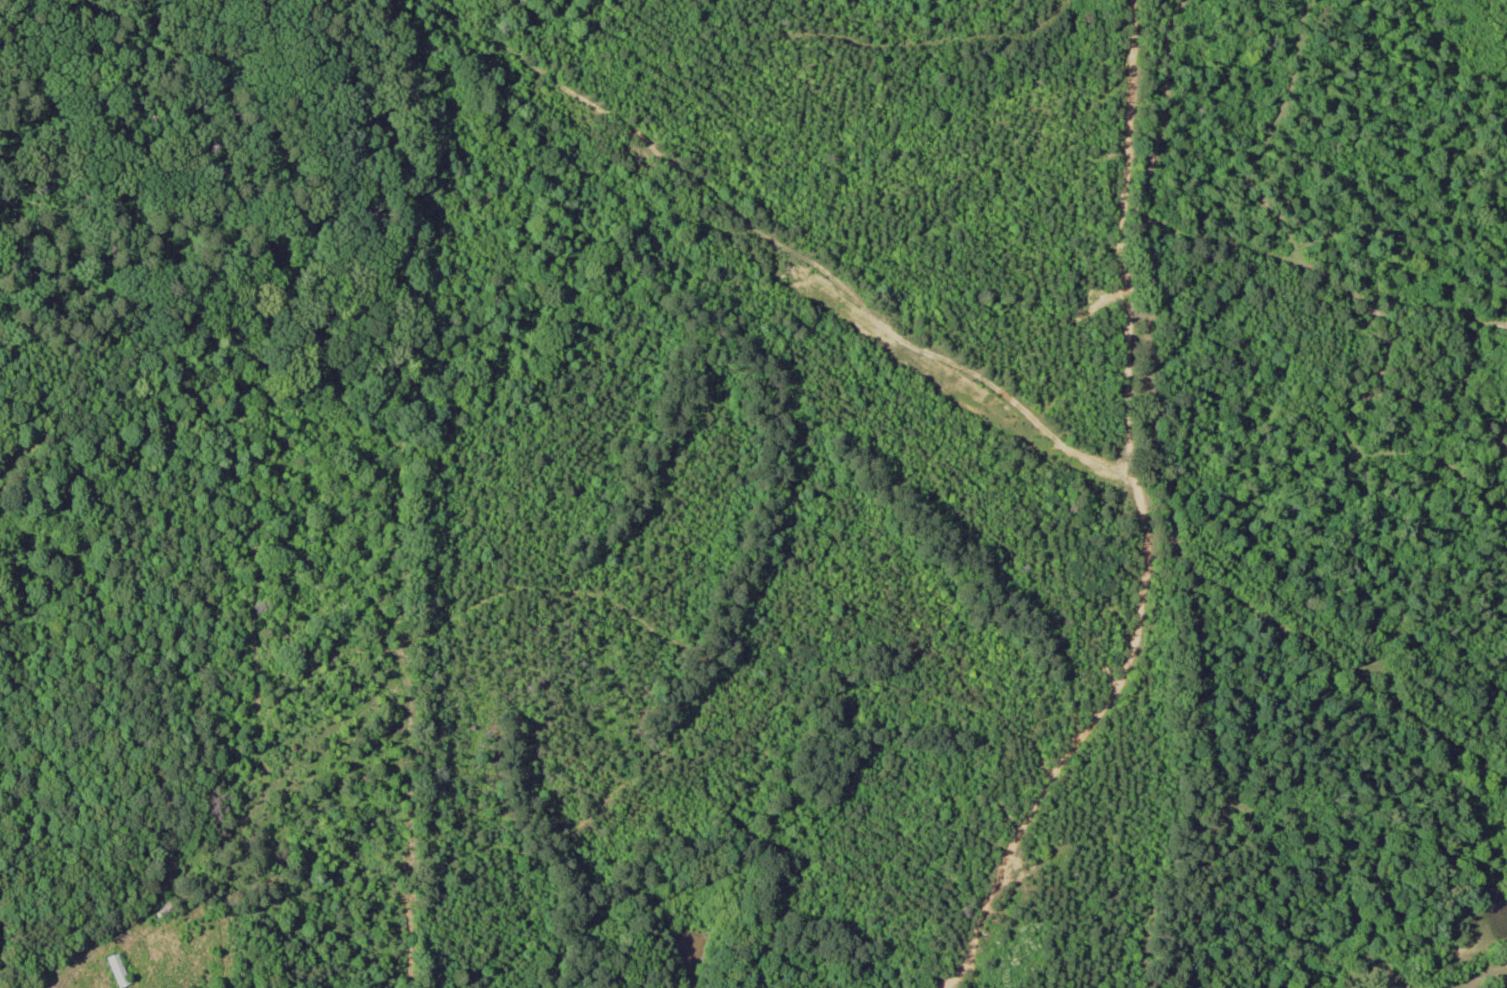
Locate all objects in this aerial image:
road: (1327, 281)
road: (1367, 442)
road: (1164, 500)
building: (165, 908)
building: (120, 970)
road: (1485, 977)

